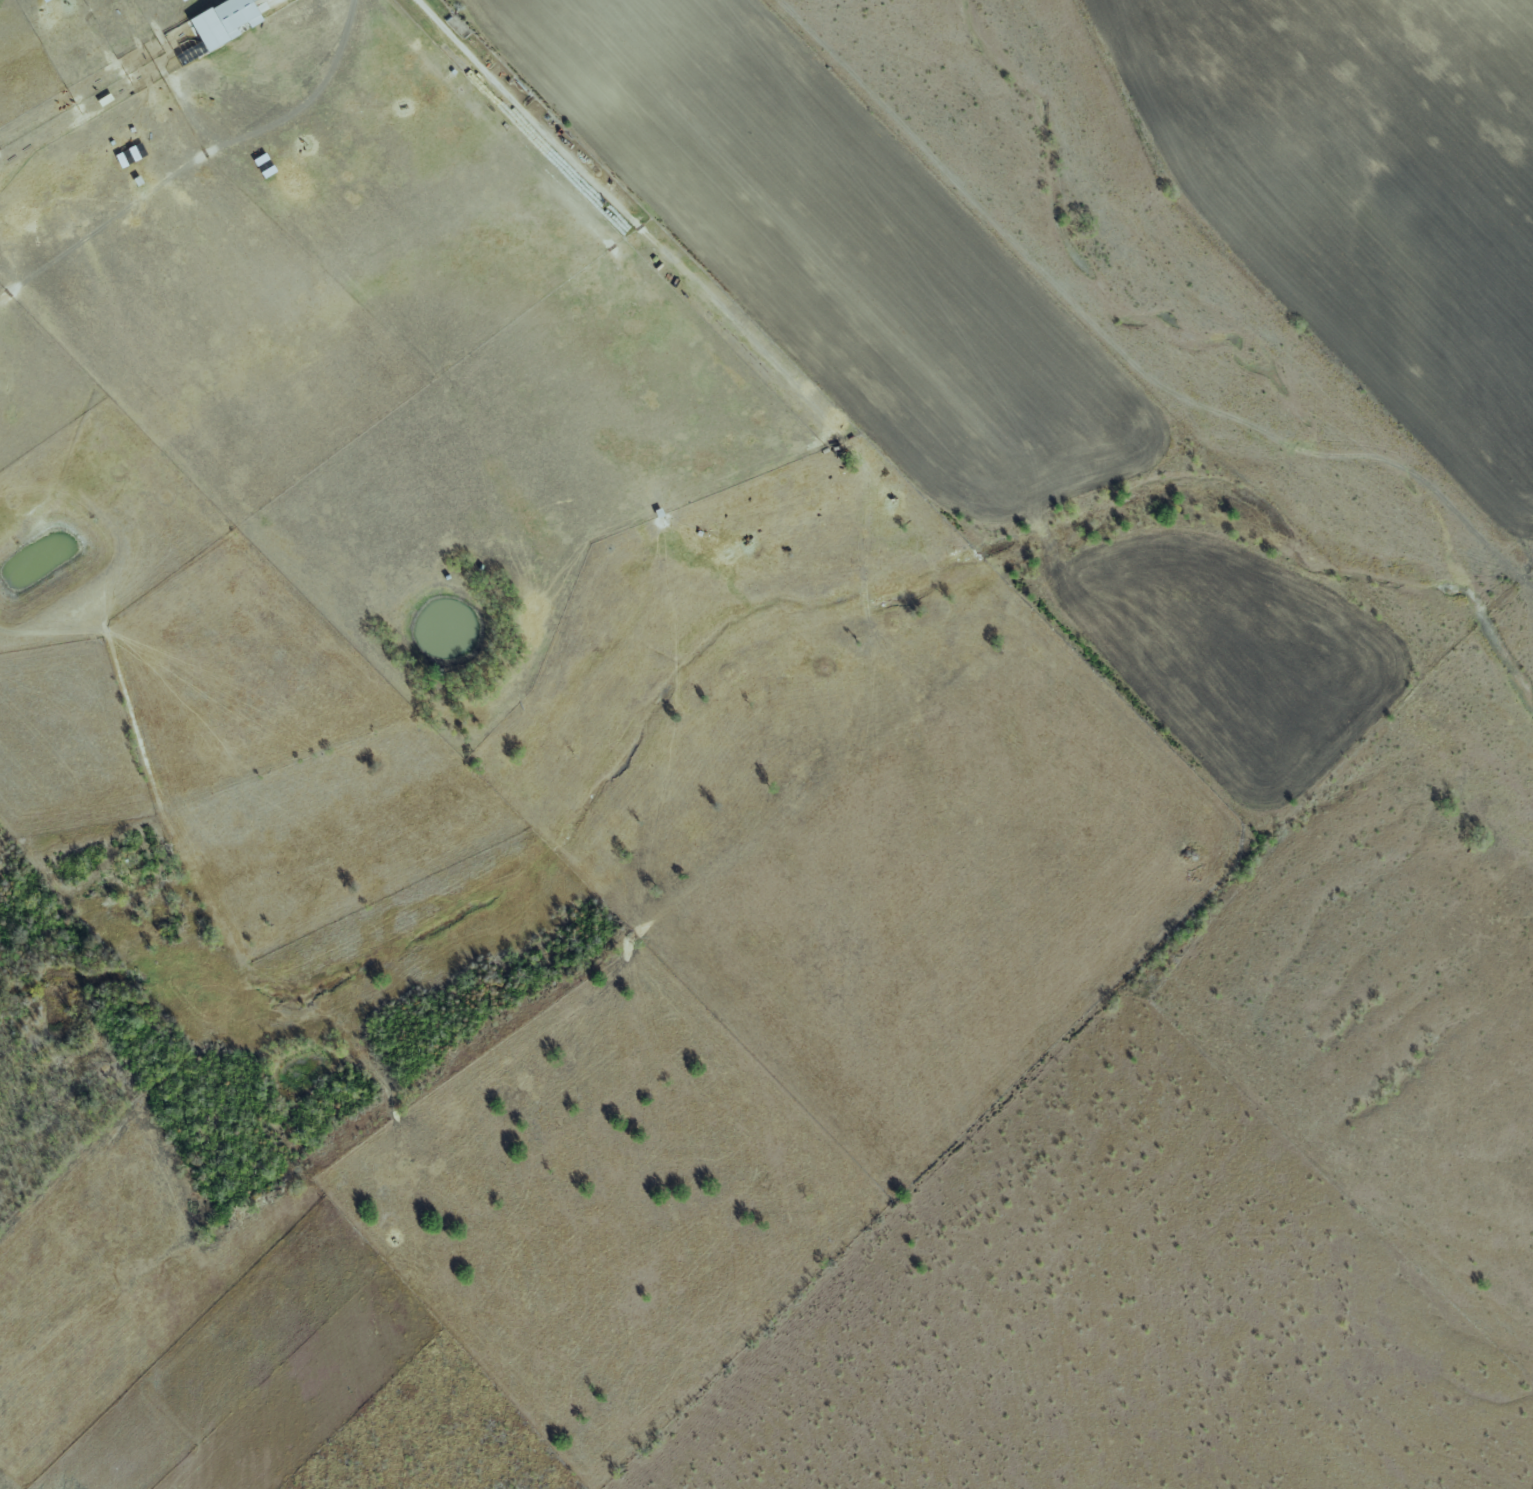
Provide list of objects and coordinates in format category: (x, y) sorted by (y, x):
road: (268, 1)
building: (216, 21)

